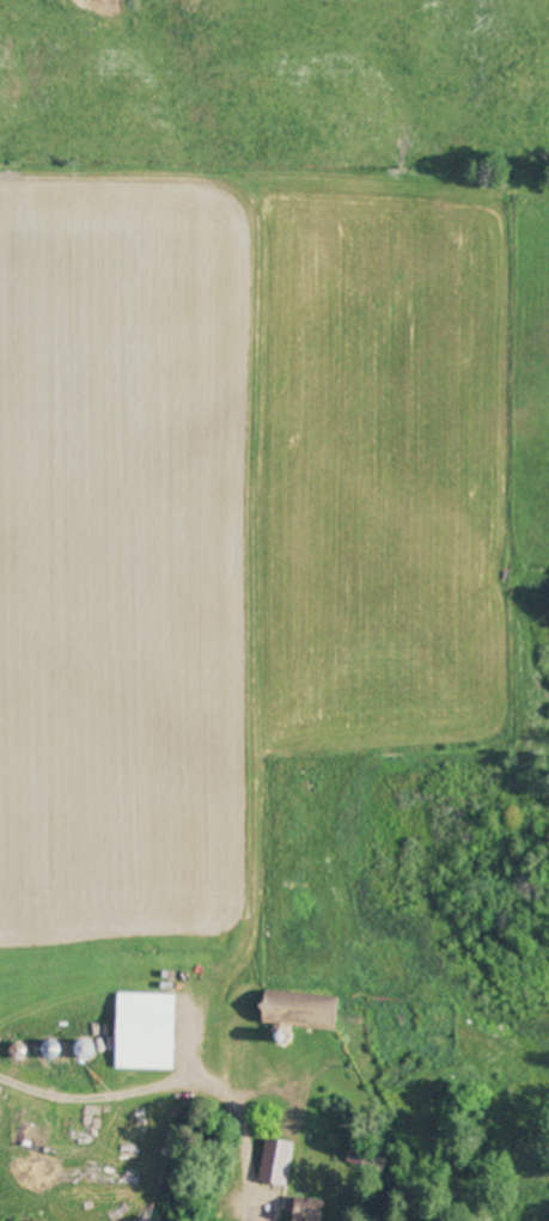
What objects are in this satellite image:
building: (297, 1009)
building: (144, 1040)
building: (275, 1161)
building: (376, 1165)
building: (304, 1209)

